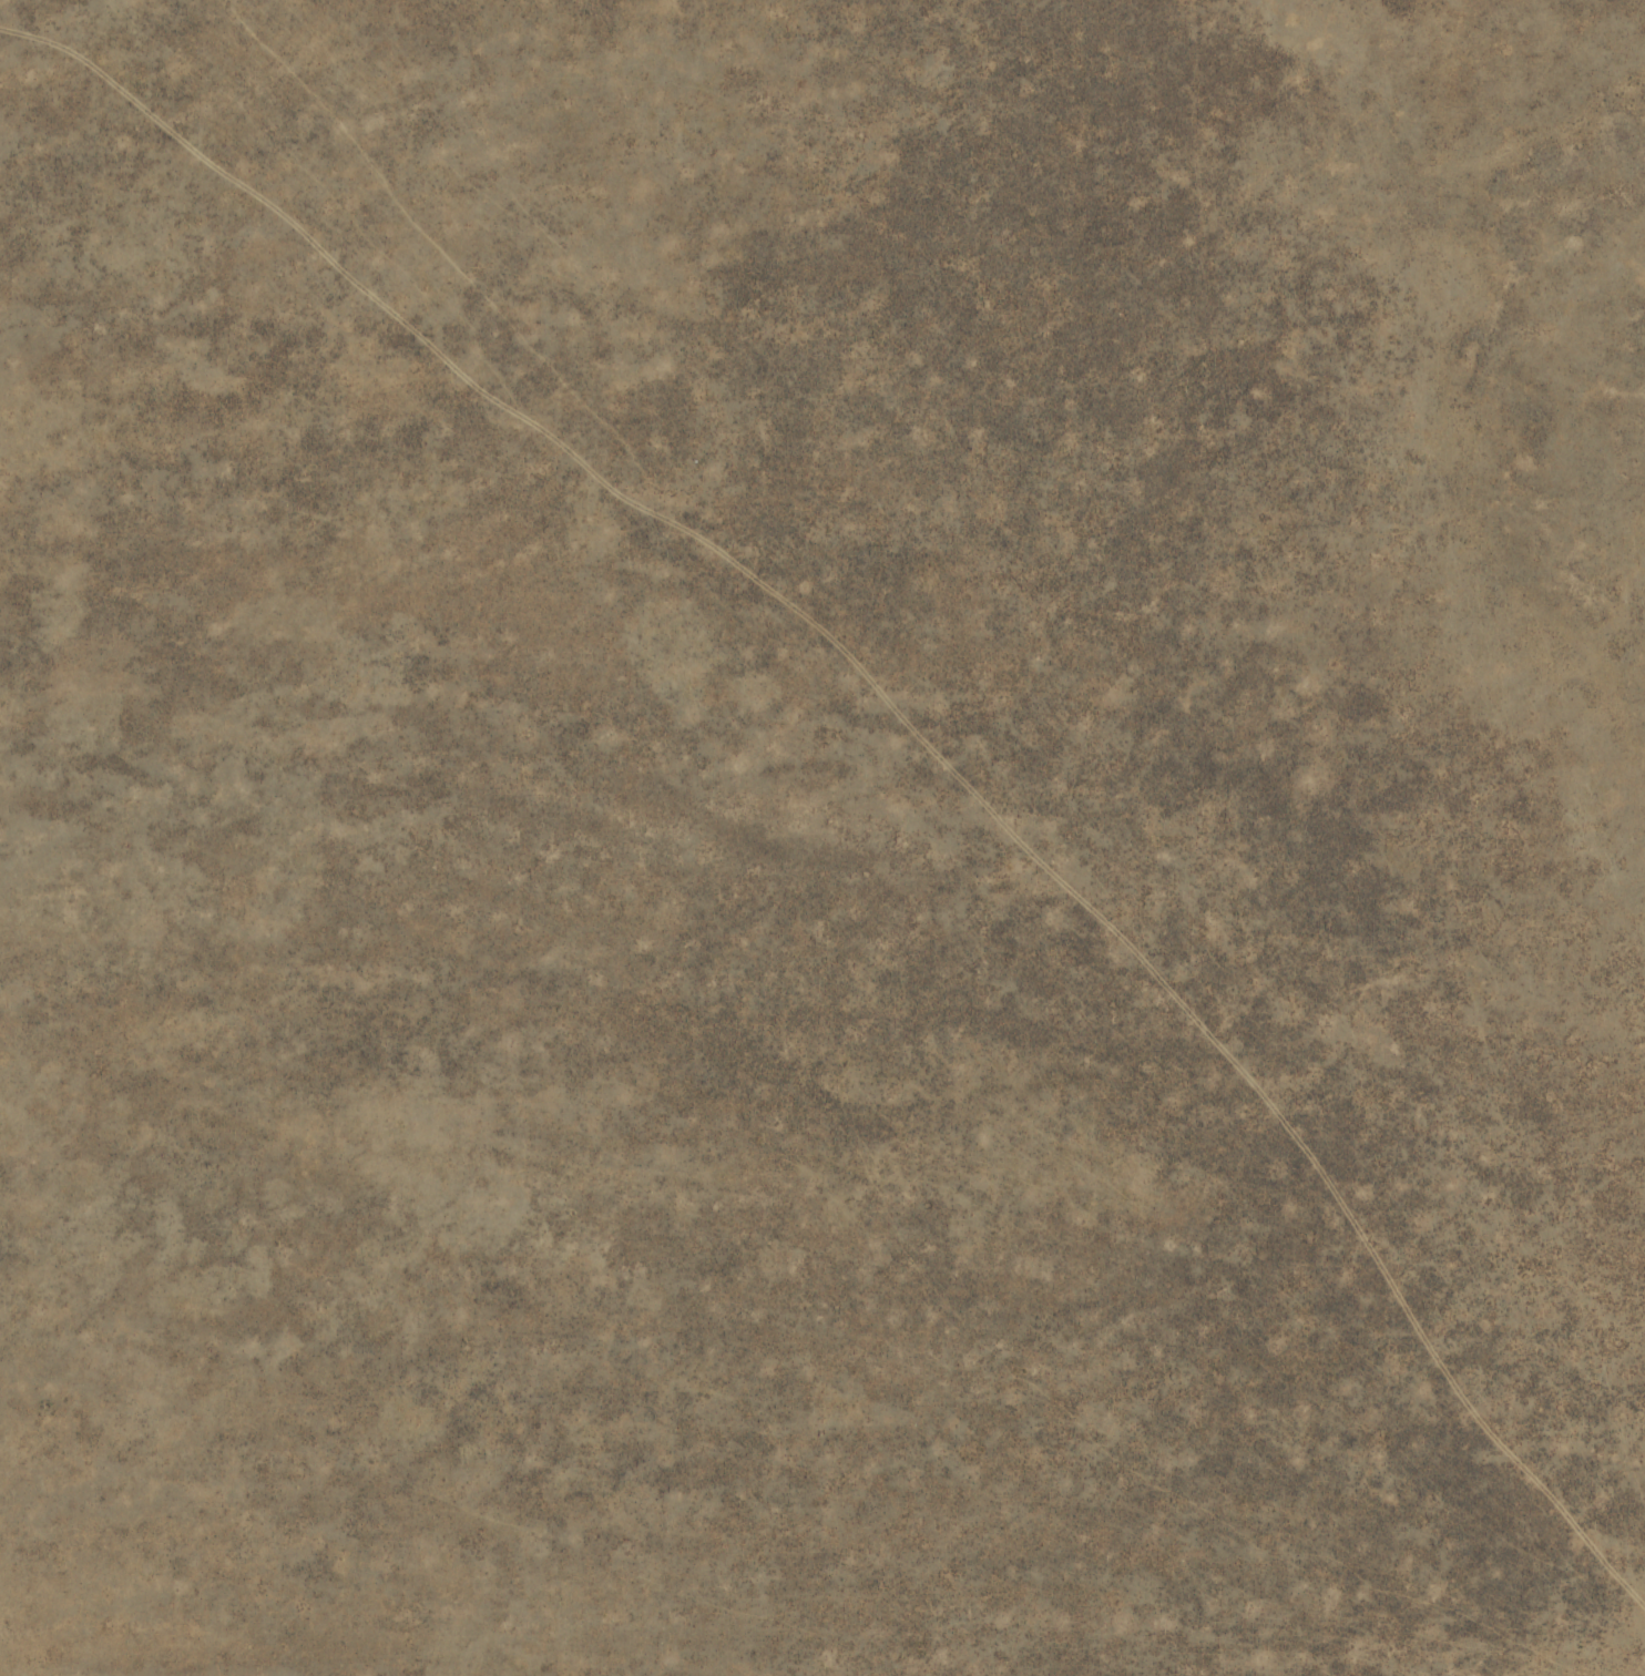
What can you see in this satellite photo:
road: (926, 728)

